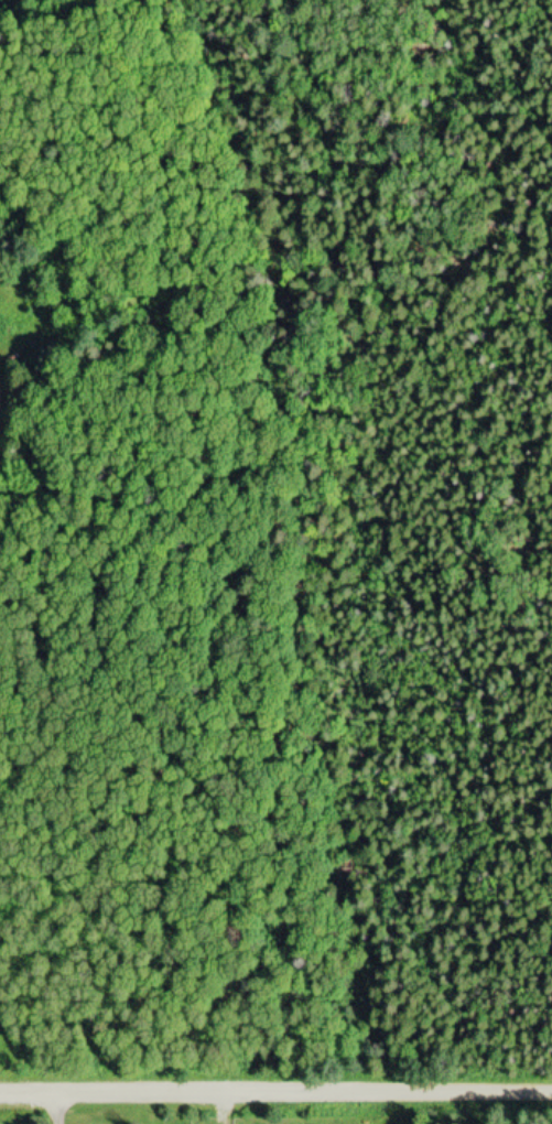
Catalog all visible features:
road: (275, 1095)

